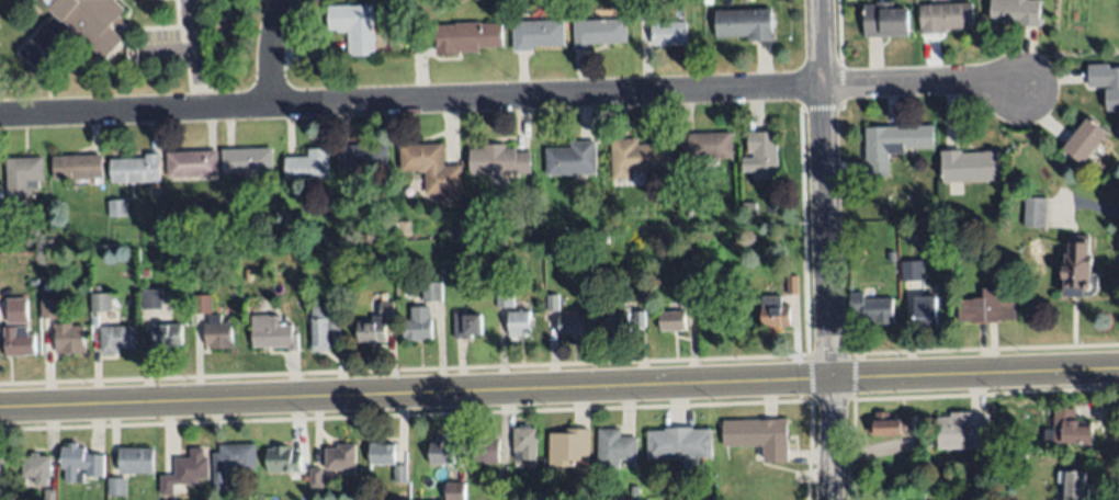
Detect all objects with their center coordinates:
building: (707, 2)
building: (644, 11)
building: (1015, 12)
building: (946, 16)
building: (885, 21)
building: (745, 24)
building: (353, 26)
building: (76, 27)
building: (599, 32)
building: (669, 33)
building: (536, 35)
building: (468, 37)
road: (271, 53)
road: (194, 55)
building: (1106, 81)
road: (917, 84)
road: (410, 102)
building: (1085, 140)
building: (893, 145)
building: (708, 146)
building: (764, 154)
building: (638, 157)
building: (362, 158)
building: (572, 159)
building: (246, 160)
building: (498, 160)
building: (192, 164)
building: (307, 166)
building: (77, 167)
building: (969, 167)
building: (433, 169)
building: (135, 170)
building: (22, 178)
road: (1090, 206)
building: (116, 208)
building: (755, 208)
building: (1035, 212)
building: (499, 225)
building: (403, 226)
building: (907, 234)
building: (603, 238)
building: (737, 239)
building: (488, 249)
road: (826, 249)
building: (912, 269)
building: (1080, 272)
building: (144, 273)
building: (247, 275)
building: (33, 282)
building: (792, 285)
building: (432, 289)
building: (689, 294)
building: (505, 297)
building: (151, 299)
building: (100, 303)
building: (552, 303)
building: (201, 304)
building: (988, 307)
building: (49, 308)
building: (872, 308)
building: (16, 310)
building: (927, 310)
building: (775, 312)
building: (672, 321)
building: (376, 322)
building: (623, 322)
building: (519, 323)
building: (334, 325)
building: (418, 325)
building: (572, 325)
building: (320, 326)
building: (467, 326)
building: (217, 333)
building: (273, 333)
building: (167, 337)
building: (69, 339)
building: (117, 339)
building: (18, 341)
road: (558, 388)
building: (884, 424)
building: (916, 427)
building: (1069, 429)
building: (963, 432)
building: (759, 436)
building: (524, 443)
building: (679, 443)
building: (570, 447)
building: (615, 448)
building: (487, 451)
building: (381, 453)
building: (441, 453)
building: (341, 458)
building: (283, 459)
building: (135, 461)
building: (231, 462)
building: (80, 463)
building: (0, 466)
building: (688, 466)
building: (36, 468)
building: (185, 471)
building: (400, 474)
building: (316, 478)
building: (498, 486)
building: (116, 487)
building: (1073, 487)
building: (635, 490)
building: (455, 491)
building: (515, 493)
building: (49, 495)
building: (403, 499)

